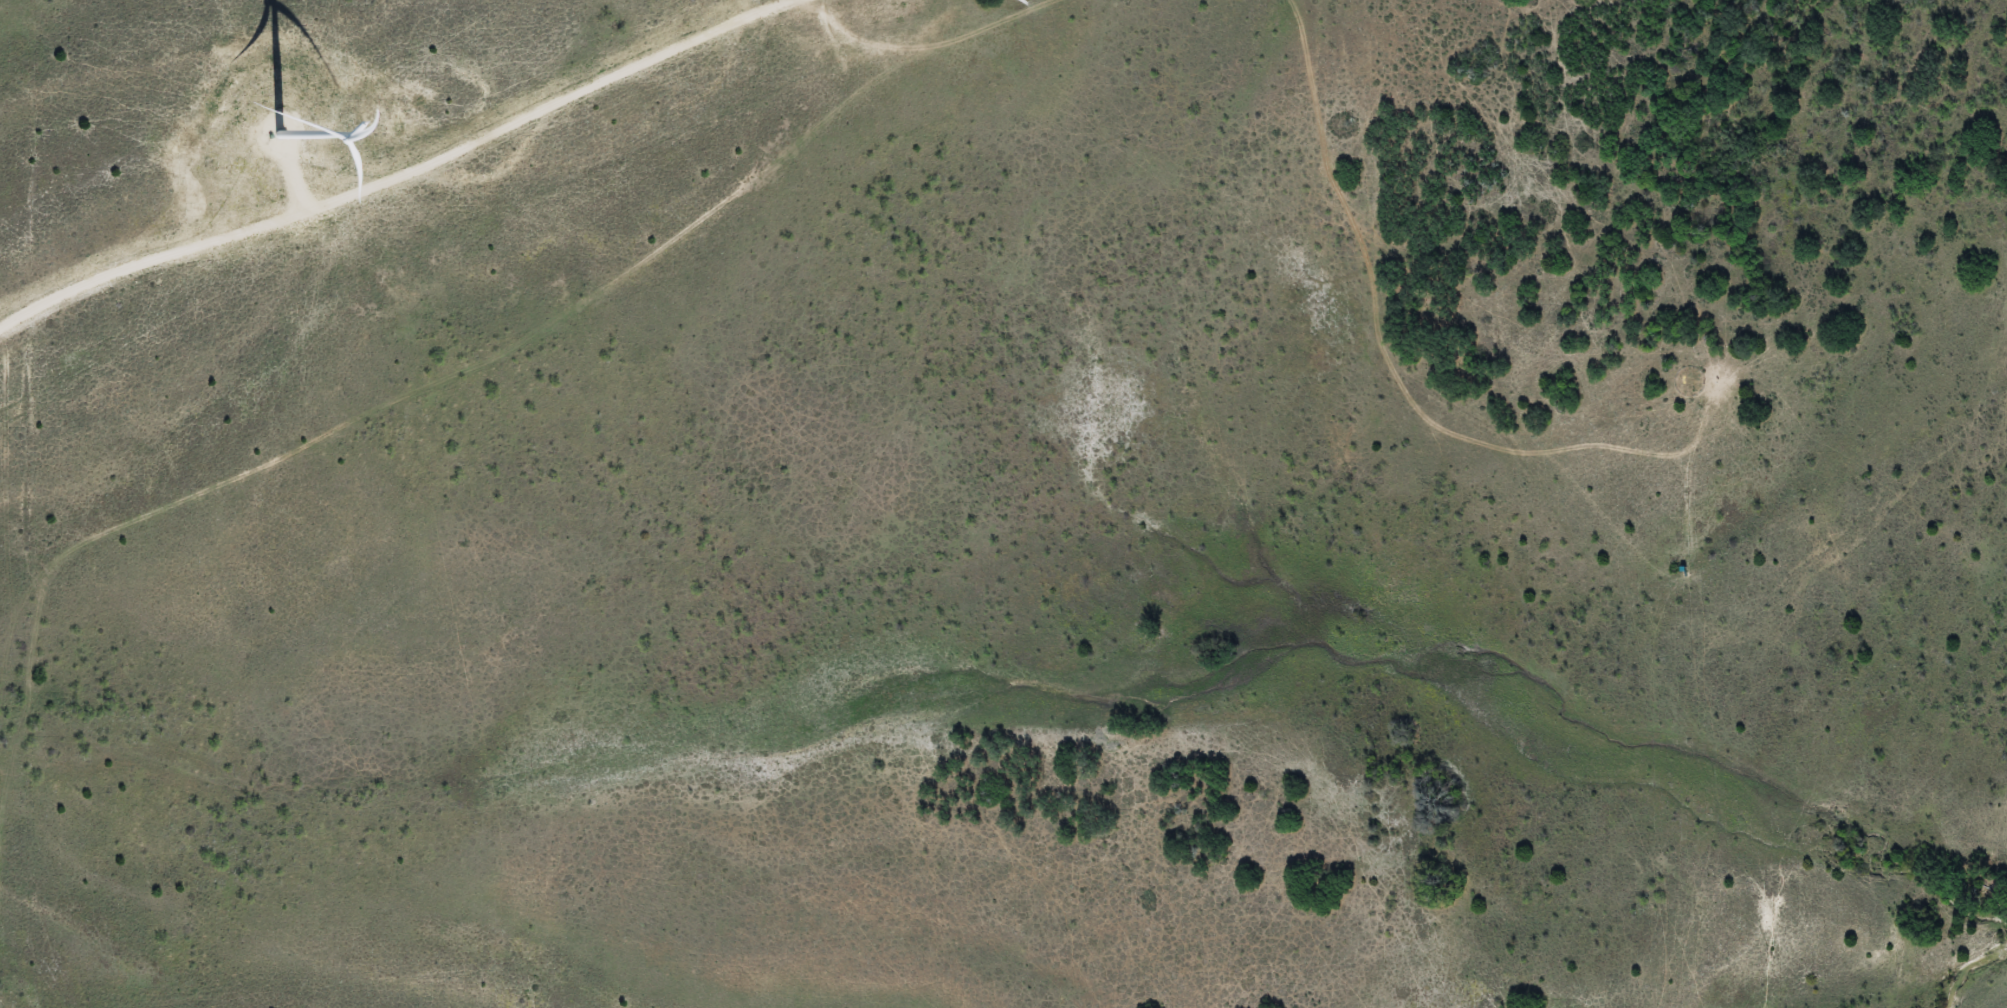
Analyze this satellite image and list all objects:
wind turbine: (279, 132)
road: (399, 167)

